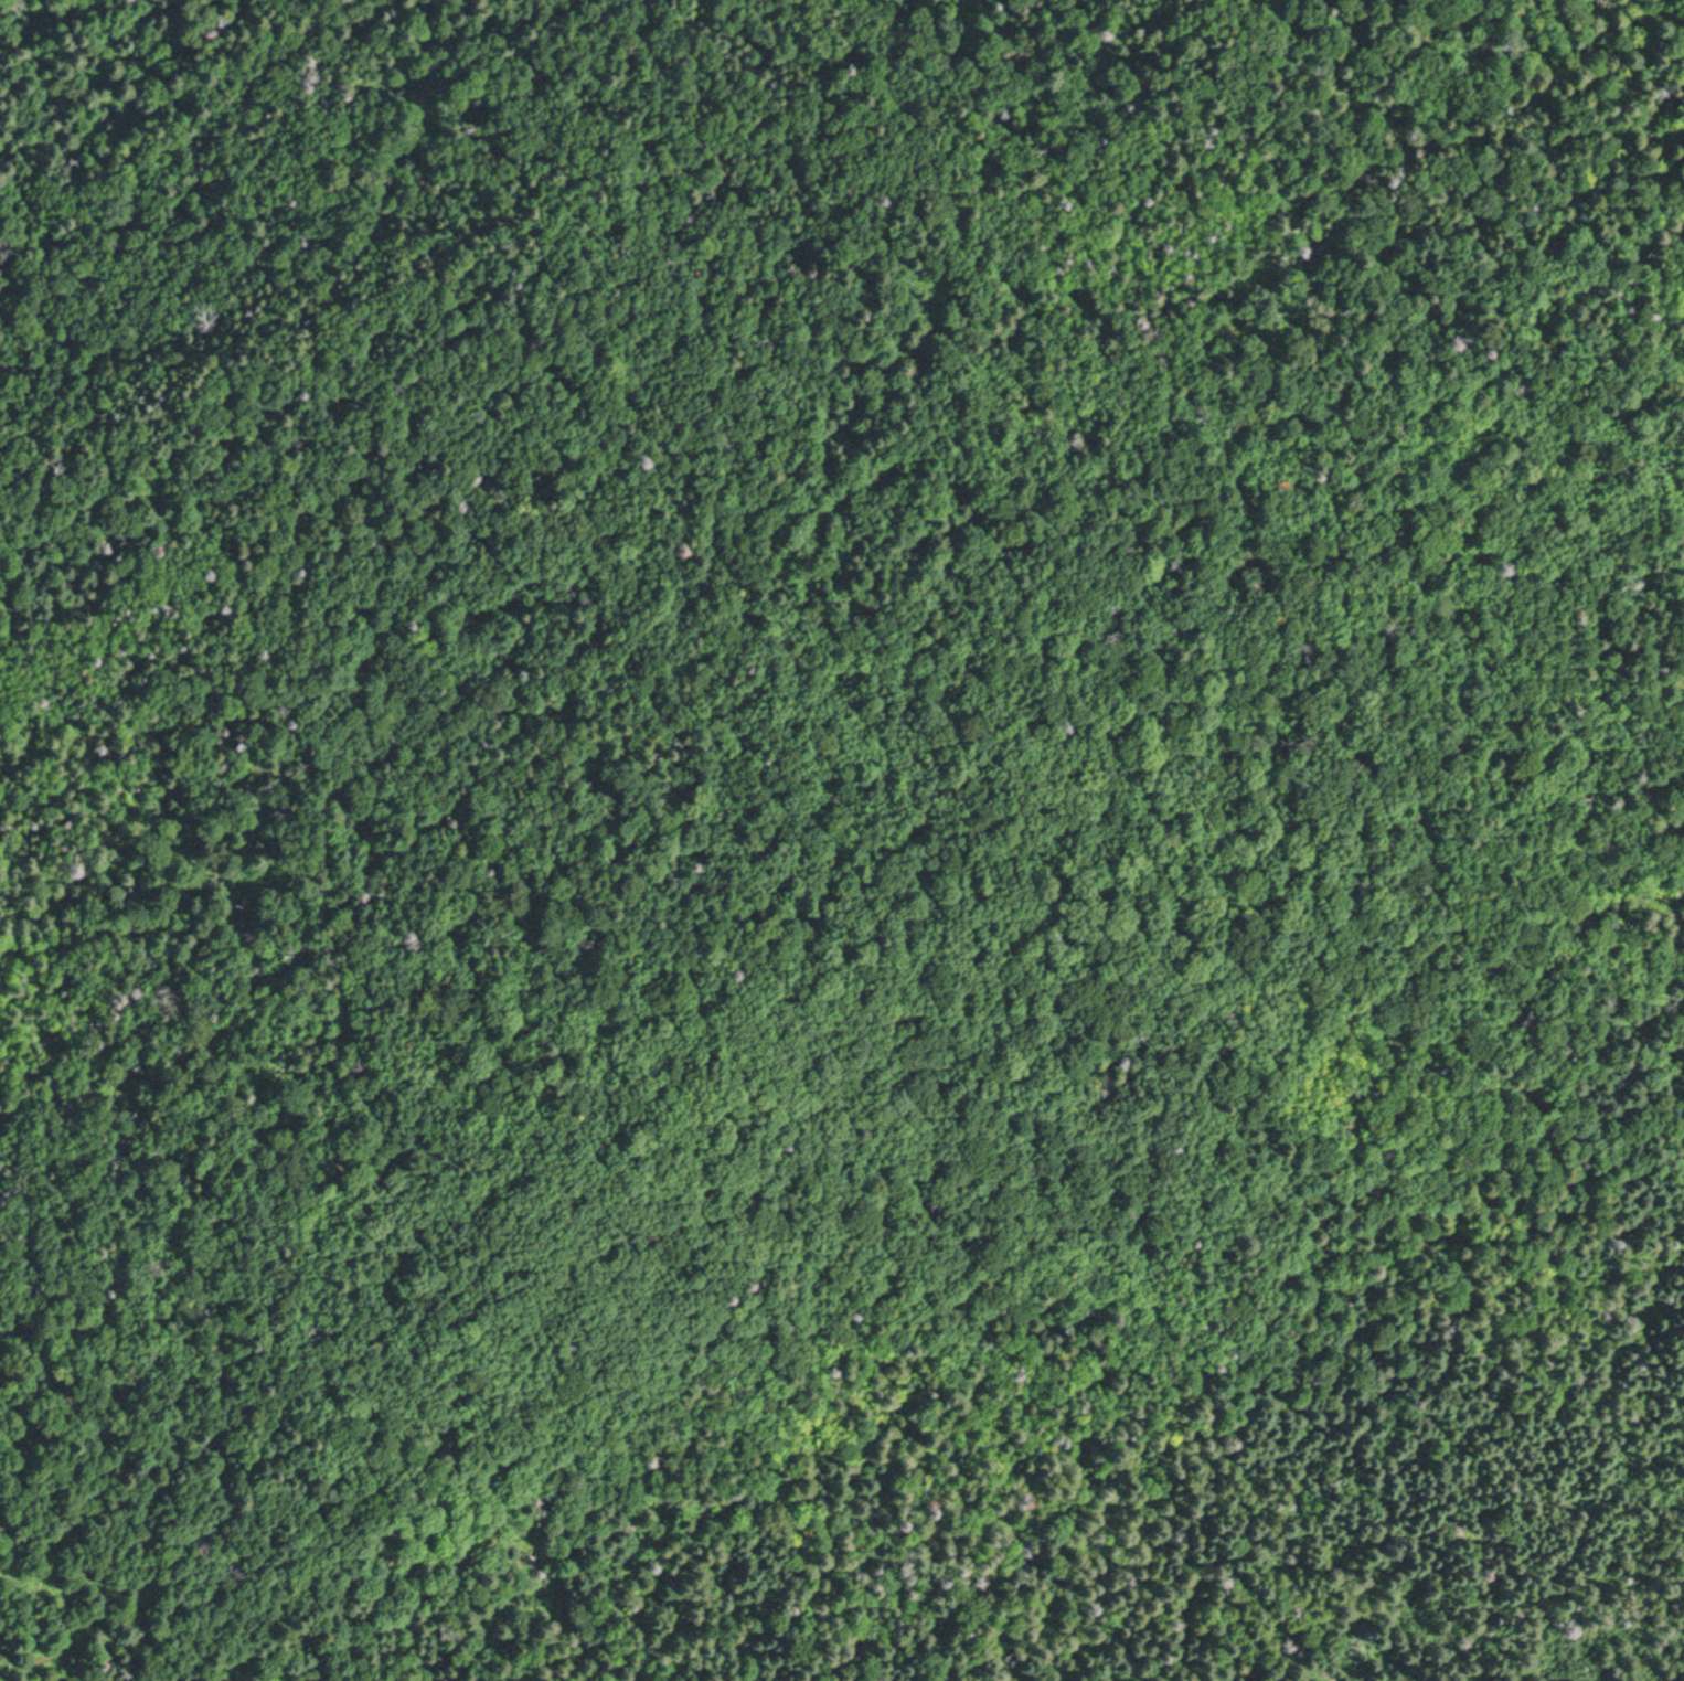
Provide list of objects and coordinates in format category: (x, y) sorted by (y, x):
road: (29, 15)

